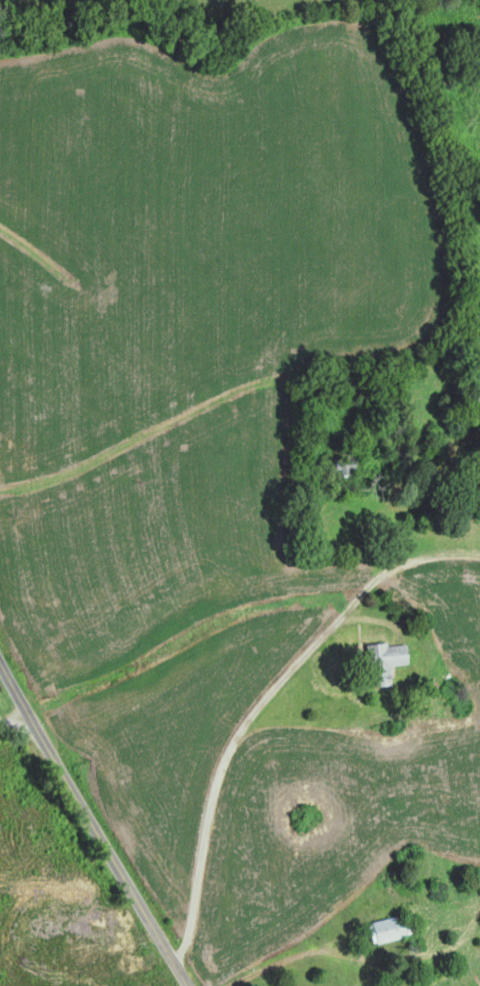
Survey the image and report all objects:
building: (474, 320)
building: (473, 399)
building: (341, 463)
building: (384, 661)
road: (292, 669)
building: (448, 684)
road: (14, 718)
road: (92, 826)
building: (388, 930)

